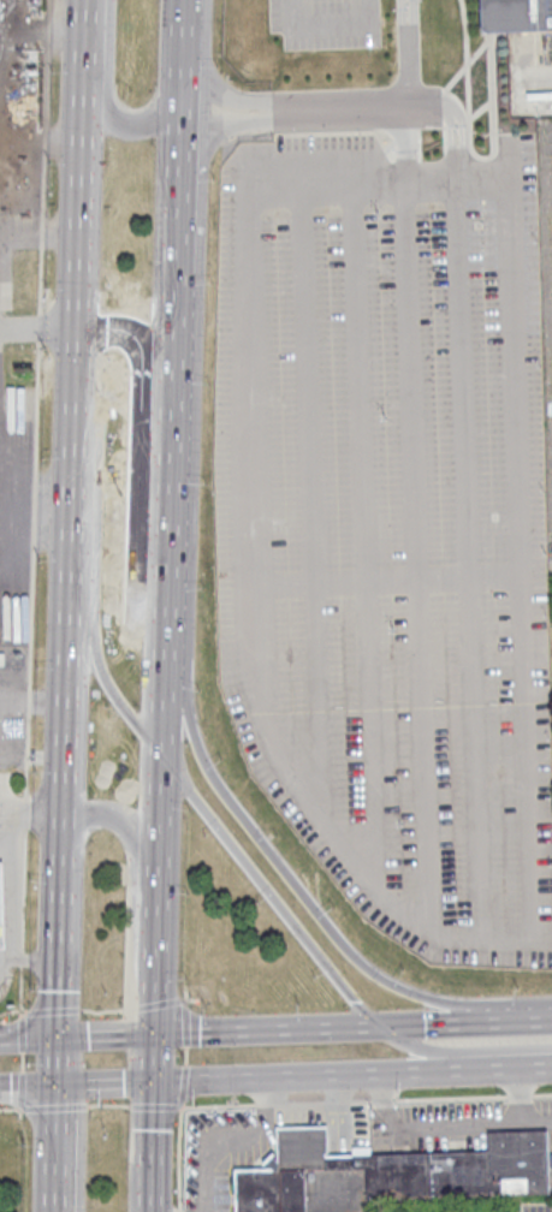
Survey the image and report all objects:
building: (516, 19)
parking lot: (321, 23)
road: (330, 25)
road: (465, 31)
road: (182, 49)
road: (450, 82)
road: (107, 96)
road: (437, 103)
road: (399, 106)
road: (284, 112)
road: (452, 120)
road: (492, 135)
road: (179, 136)
road: (451, 137)
road: (462, 137)
road: (404, 159)
road: (457, 160)
road: (458, 172)
road: (458, 183)
road: (452, 196)
road: (352, 200)
road: (299, 202)
road: (78, 204)
road: (37, 332)
road: (170, 396)
road: (36, 397)
street lamp: (207, 483)
road: (71, 491)
road: (138, 493)
road: (310, 518)
parking lot: (391, 527)
road: (363, 548)
road: (416, 571)
road: (468, 575)
road: (392, 580)
street lamp: (203, 584)
road: (160, 670)
street lamp: (198, 689)
road: (66, 696)
road: (159, 739)
street lamp: (19, 789)
road: (158, 802)
road: (25, 810)
road: (31, 810)
street lamp: (31, 874)
road: (12, 885)
road: (23, 890)
street lamp: (186, 892)
building: (1, 909)
road: (409, 921)
road: (59, 928)
road: (154, 940)
road: (6, 956)
road: (20, 958)
road: (35, 962)
street lamp: (185, 976)
street lamp: (31, 985)
road: (20, 990)
road: (184, 993)
road: (189, 998)
road: (152, 1003)
street lamp: (297, 1004)
road: (12, 1010)
road: (52, 1010)
road: (99, 1010)
street lamp: (11, 1014)
street lamp: (203, 1016)
road: (516, 1017)
road: (184, 1022)
road: (429, 1023)
traffic signals: (378, 1028)
road: (263, 1030)
road: (20, 1033)
traffic signals: (152, 1035)
road: (103, 1036)
road: (28, 1039)
traffic signals: (55, 1039)
road: (185, 1054)
street lamp: (180, 1056)
street lamp: (28, 1059)
road: (150, 1059)
road: (22, 1060)
road: (55, 1062)
road: (504, 1067)
road: (302, 1076)
traffic signals: (149, 1083)
road: (102, 1085)
road: (182, 1085)
traffic signals: (57, 1086)
road: (28, 1087)
road: (18, 1088)
road: (366, 1100)
street lamp: (195, 1103)
road: (101, 1104)
road: (153, 1106)
road: (47, 1107)
road: (8, 1109)
road: (19, 1111)
street lamp: (176, 1130)
street lamp: (25, 1143)
road: (149, 1147)
road: (57, 1148)
road: (178, 1157)
road: (209, 1157)
building: (387, 1171)
road: (178, 1210)

